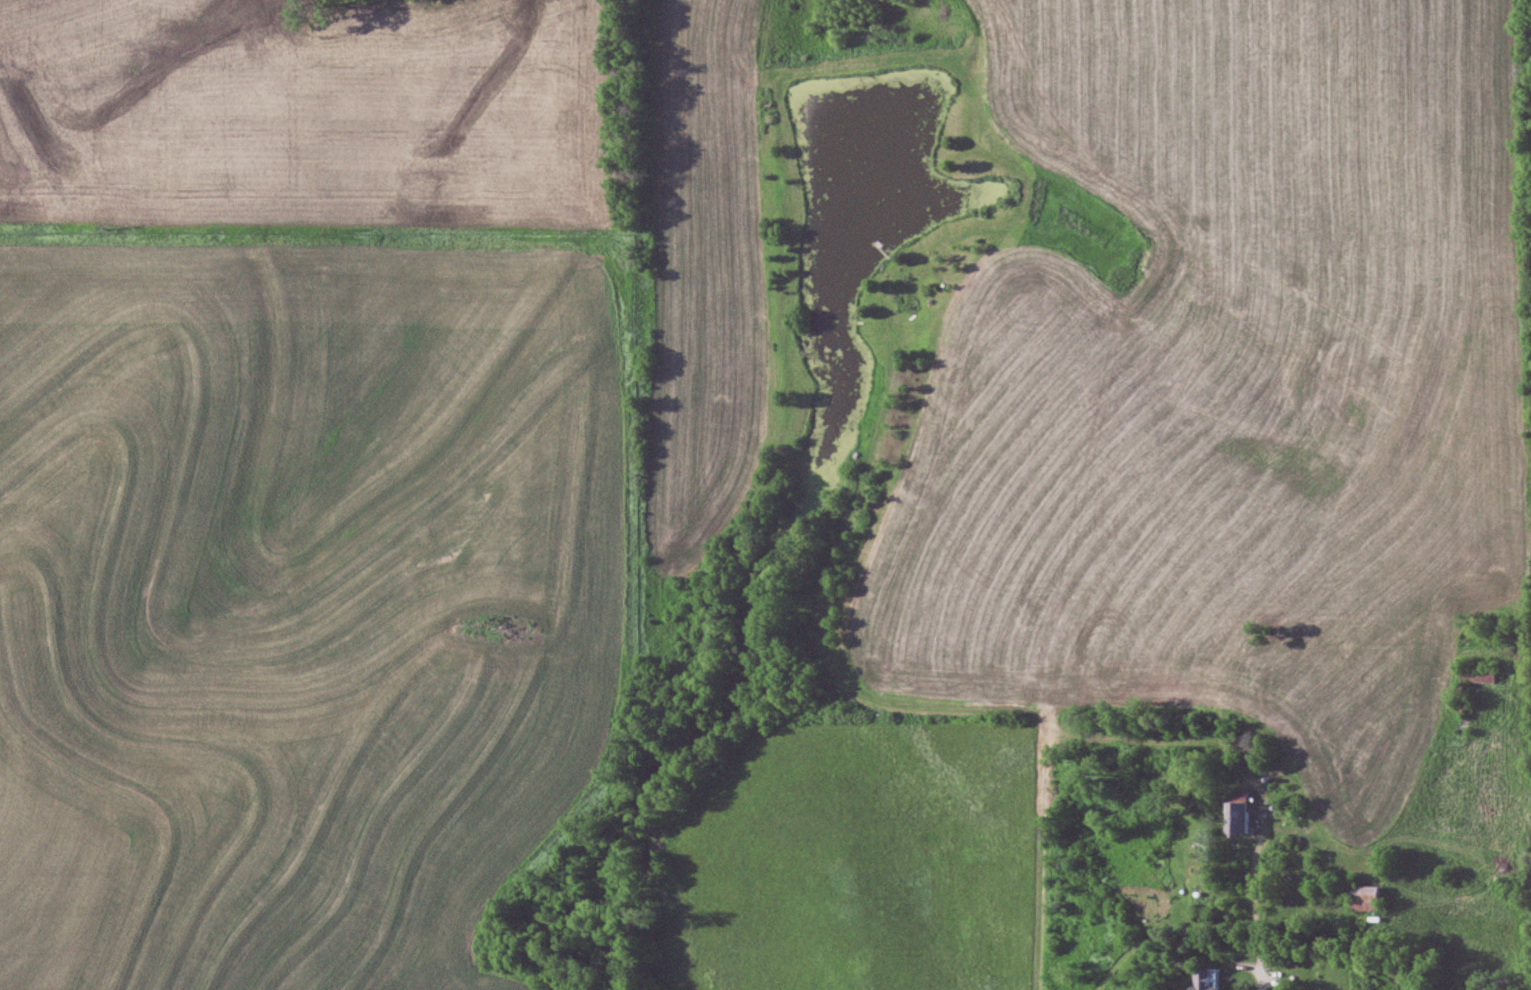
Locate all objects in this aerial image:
building: (1475, 672)
building: (1237, 810)
building: (1366, 894)
road: (1299, 948)
building: (1205, 978)

